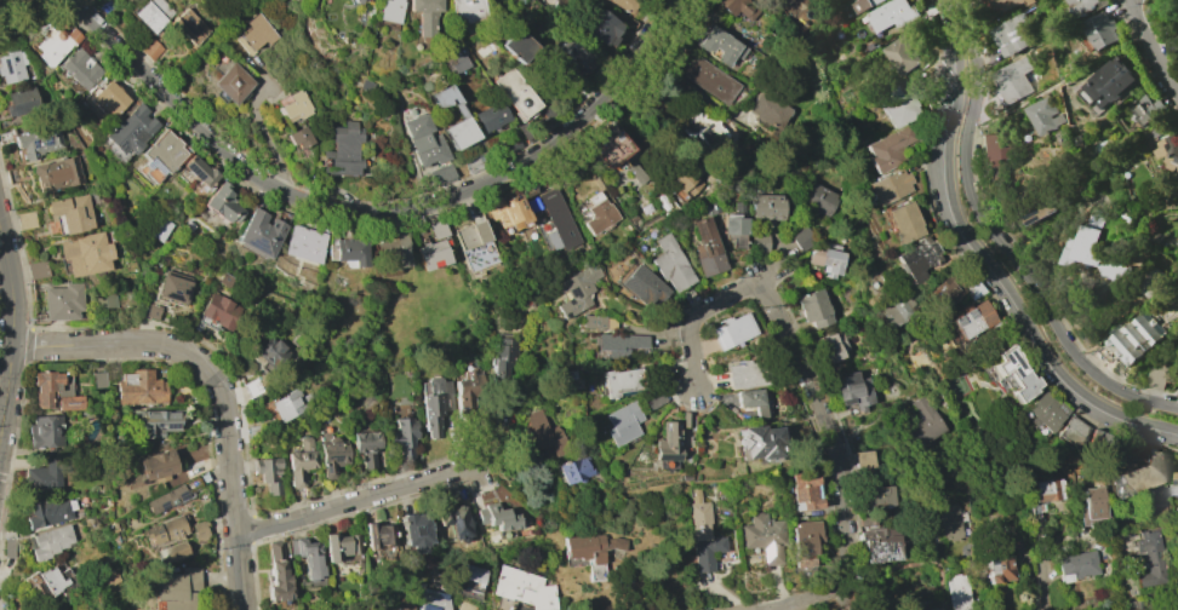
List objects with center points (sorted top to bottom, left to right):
building: (113, 0)
building: (355, 1)
building: (1025, 1)
building: (1003, 2)
building: (625, 5)
building: (863, 5)
building: (1087, 6)
building: (737, 7)
building: (465, 10)
building: (389, 12)
building: (153, 13)
building: (424, 15)
building: (890, 15)
road: (956, 18)
building: (599, 25)
building: (190, 27)
building: (1103, 29)
building: (256, 33)
building: (1011, 34)
building: (1171, 41)
building: (55, 42)
building: (515, 45)
building: (717, 45)
building: (150, 50)
road: (1150, 51)
building: (579, 54)
building: (903, 54)
building: (454, 58)
building: (11, 65)
building: (79, 69)
building: (1013, 79)
building: (709, 80)
building: (230, 82)
building: (1109, 82)
building: (365, 87)
road: (1056, 87)
building: (514, 93)
building: (108, 99)
building: (19, 100)
building: (296, 105)
building: (896, 105)
building: (1146, 108)
building: (768, 110)
building: (459, 115)
building: (488, 116)
building: (1046, 116)
building: (700, 128)
building: (131, 130)
rooftop solar panel: (132, 133)
building: (299, 137)
building: (421, 140)
building: (38, 142)
rooftop solar panel: (45, 142)
rooftop solar panel: (33, 144)
rooftop solar panel: (121, 145)
building: (610, 146)
building: (994, 146)
building: (887, 148)
rooftop solar panel: (132, 149)
building: (341, 150)
building: (164, 151)
building: (1166, 152)
building: (200, 171)
building: (441, 173)
building: (635, 173)
building: (55, 174)
building: (686, 183)
building: (886, 186)
building: (819, 198)
building: (663, 202)
building: (222, 203)
building: (767, 207)
building: (508, 211)
building: (1039, 211)
building: (70, 212)
building: (596, 212)
road: (373, 213)
building: (25, 220)
building: (557, 221)
building: (902, 221)
building: (187, 226)
building: (435, 229)
building: (736, 230)
building: (258, 235)
building: (802, 238)
building: (1087, 241)
building: (302, 242)
building: (759, 243)
rooftop solar panel: (255, 246)
building: (475, 246)
building: (707, 248)
building: (345, 249)
building: (391, 252)
building: (85, 253)
building: (430, 254)
road: (1012, 255)
building: (827, 258)
building: (917, 258)
building: (670, 264)
road: (2, 265)
building: (36, 270)
road: (7, 274)
road: (997, 274)
road: (4, 275)
building: (644, 286)
building: (173, 287)
building: (972, 288)
building: (577, 289)
building: (938, 292)
building: (105, 300)
building: (63, 301)
building: (813, 307)
road: (5, 309)
building: (897, 310)
building: (150, 311)
building: (218, 311)
rooftop solar panel: (971, 312)
rooftop solar panel: (1148, 318)
building: (970, 320)
building: (593, 322)
rooftop solar panel: (955, 322)
rooftop solar panel: (1162, 329)
building: (1177, 329)
building: (730, 332)
building: (1133, 338)
building: (619, 344)
building: (834, 344)
road: (5, 346)
building: (271, 351)
building: (503, 356)
road: (796, 357)
rooftop solar panel: (1011, 357)
rooftop solar panel: (1005, 359)
road: (7, 366)
building: (745, 372)
rooftop solar panel: (1012, 373)
building: (1014, 373)
building: (1156, 374)
building: (98, 379)
building: (622, 381)
road: (219, 386)
building: (137, 387)
building: (253, 387)
building: (468, 390)
building: (851, 391)
building: (52, 393)
road: (1170, 396)
building: (747, 397)
building: (652, 398)
building: (435, 403)
building: (287, 405)
building: (1043, 413)
building: (921, 418)
building: (685, 419)
building: (158, 421)
building: (622, 422)
building: (541, 428)
building: (1070, 431)
building: (45, 432)
building: (255, 432)
building: (405, 436)
building: (1097, 441)
building: (757, 442)
building: (668, 443)
building: (367, 448)
building: (332, 454)
building: (864, 459)
building: (301, 462)
building: (156, 465)
building: (574, 468)
building: (269, 474)
building: (1139, 476)
building: (42, 477)
building: (1174, 484)
building: (805, 490)
building: (1045, 494)
building: (874, 496)
building: (168, 499)
road: (365, 501)
building: (1096, 502)
building: (46, 512)
building: (497, 517)
building: (453, 520)
building: (950, 522)
building: (413, 529)
building: (165, 530)
building: (200, 530)
building: (378, 534)
building: (703, 534)
building: (764, 536)
building: (48, 541)
building: (804, 542)
building: (339, 545)
building: (876, 545)
building: (590, 551)
building: (171, 552)
rooftop solar panel: (767, 553)
building: (307, 556)
building: (1150, 559)
building: (997, 565)
building: (1076, 565)
road: (909, 571)
building: (278, 574)
building: (468, 577)
road: (1027, 577)
road: (1042, 577)
building: (51, 581)
building: (522, 588)
building: (177, 589)
building: (957, 593)
road: (811, 598)
building: (434, 600)
road: (624, 604)
building: (464, 606)
building: (400, 608)
building: (840, 608)
building: (914, 608)
building: (1133, 609)
building: (1139, 609)

